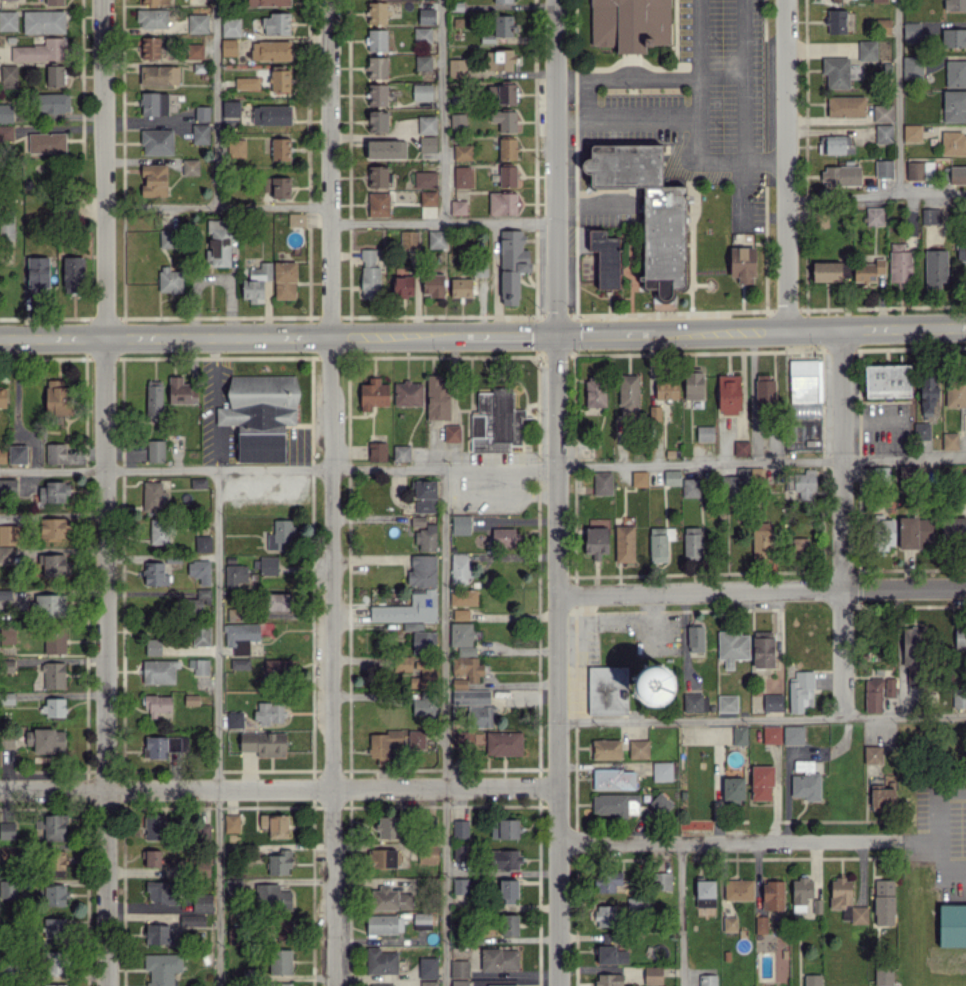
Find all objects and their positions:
building: (154, 1)
building: (503, 1)
building: (878, 1)
building: (55, 2)
building: (268, 2)
building: (954, 5)
building: (376, 13)
building: (426, 16)
building: (152, 18)
building: (8, 20)
building: (43, 21)
building: (836, 21)
building: (197, 23)
building: (276, 24)
building: (630, 24)
building: (503, 25)
building: (884, 25)
building: (230, 26)
building: (912, 32)
building: (422, 34)
building: (953, 37)
building: (376, 40)
building: (150, 47)
building: (228, 47)
building: (39, 50)
building: (270, 50)
building: (867, 50)
building: (194, 51)
building: (498, 60)
building: (423, 62)
building: (912, 66)
building: (377, 67)
building: (457, 67)
building: (836, 71)
building: (955, 73)
building: (9, 75)
building: (55, 75)
building: (159, 75)
road: (627, 78)
building: (279, 80)
building: (246, 83)
building: (422, 92)
building: (377, 94)
building: (501, 94)
road: (899, 98)
building: (52, 102)
building: (154, 103)
road: (215, 103)
building: (845, 106)
building: (954, 106)
building: (231, 109)
road: (441, 110)
building: (6, 113)
building: (202, 113)
building: (882, 113)
building: (271, 114)
road: (825, 114)
road: (628, 116)
building: (504, 120)
building: (377, 121)
road: (701, 121)
building: (458, 122)
building: (427, 124)
building: (912, 132)
building: (200, 133)
building: (884, 133)
building: (46, 142)
building: (157, 142)
building: (953, 143)
building: (427, 144)
building: (835, 144)
building: (237, 148)
building: (507, 148)
building: (280, 149)
building: (386, 149)
building: (462, 152)
road: (784, 165)
building: (190, 166)
building: (883, 168)
building: (918, 169)
building: (955, 174)
building: (507, 175)
building: (842, 175)
building: (377, 176)
building: (462, 176)
building: (153, 179)
building: (425, 179)
building: (277, 186)
building: (428, 198)
road: (874, 198)
building: (502, 203)
building: (378, 204)
road: (217, 206)
building: (458, 207)
building: (647, 210)
building: (874, 215)
building: (930, 216)
building: (296, 219)
road: (443, 220)
building: (6, 230)
building: (168, 238)
building: (409, 239)
building: (435, 239)
building: (219, 242)
building: (961, 251)
building: (605, 258)
building: (899, 263)
building: (512, 264)
building: (742, 264)
building: (935, 268)
building: (826, 271)
building: (868, 271)
building: (37, 273)
building: (72, 274)
building: (369, 274)
road: (495, 277)
building: (169, 280)
building: (285, 280)
building: (256, 282)
building: (433, 284)
building: (403, 286)
building: (461, 287)
road: (902, 328)
road: (747, 331)
road: (605, 334)
road: (394, 335)
road: (507, 335)
traffic signals: (556, 335)
road: (164, 337)
building: (887, 380)
building: (805, 381)
building: (693, 385)
building: (666, 389)
building: (764, 389)
building: (595, 390)
building: (181, 391)
building: (955, 391)
building: (407, 393)
building: (628, 393)
building: (373, 394)
building: (728, 394)
building: (927, 394)
building: (2, 397)
building: (58, 397)
building: (437, 398)
building: (154, 400)
road: (214, 403)
building: (260, 414)
building: (496, 421)
building: (921, 431)
building: (451, 433)
building: (704, 433)
building: (949, 441)
building: (741, 448)
building: (155, 451)
building: (377, 451)
building: (55, 453)
building: (401, 453)
building: (17, 454)
building: (2, 455)
road: (761, 462)
road: (500, 467)
road: (222, 469)
building: (671, 477)
building: (639, 478)
building: (198, 482)
building: (740, 482)
building: (602, 483)
building: (801, 483)
building: (7, 486)
building: (690, 487)
building: (54, 491)
road: (332, 492)
road: (103, 493)
road: (557, 493)
building: (424, 496)
building: (153, 497)
building: (460, 524)
road: (841, 524)
building: (53, 528)
building: (953, 528)
building: (160, 531)
building: (915, 532)
building: (280, 533)
building: (885, 533)
building: (9, 534)
building: (502, 536)
building: (426, 538)
building: (596, 541)
building: (761, 541)
building: (691, 542)
building: (202, 543)
building: (624, 543)
building: (659, 543)
building: (799, 545)
building: (5, 554)
building: (54, 564)
building: (268, 565)
building: (459, 569)
building: (199, 570)
building: (422, 570)
building: (155, 574)
building: (236, 576)
road: (762, 592)
building: (203, 595)
building: (463, 596)
building: (279, 601)
building: (50, 605)
building: (408, 608)
building: (461, 614)
building: (412, 626)
building: (7, 634)
building: (201, 634)
building: (241, 636)
building: (960, 636)
building: (462, 638)
building: (695, 638)
building: (55, 641)
building: (423, 641)
building: (153, 646)
building: (732, 647)
building: (763, 649)
building: (912, 653)
building: (239, 663)
building: (403, 663)
building: (199, 666)
building: (159, 671)
building: (465, 671)
building: (54, 675)
building: (424, 677)
building: (653, 686)
building: (889, 687)
building: (607, 689)
water tower: (654, 690)
building: (800, 691)
building: (873, 695)
building: (470, 696)
building: (959, 697)
building: (695, 702)
building: (772, 702)
building: (158, 703)
building: (727, 703)
building: (424, 706)
building: (54, 707)
building: (269, 713)
building: (480, 715)
building: (235, 719)
road: (761, 719)
road: (217, 727)
road: (444, 727)
building: (771, 734)
building: (739, 735)
building: (793, 735)
building: (416, 739)
building: (46, 740)
building: (264, 743)
building: (503, 743)
building: (383, 744)
building: (155, 747)
building: (638, 748)
building: (606, 749)
building: (872, 754)
building: (662, 771)
building: (613, 778)
building: (805, 780)
building: (762, 782)
road: (279, 788)
building: (733, 788)
building: (881, 798)
building: (615, 804)
road: (939, 804)
building: (231, 822)
building: (275, 824)
building: (155, 826)
building: (54, 827)
building: (387, 827)
building: (460, 828)
building: (504, 828)
building: (7, 830)
road: (727, 842)
road: (939, 843)
building: (459, 852)
building: (428, 853)
building: (150, 858)
building: (384, 858)
building: (505, 859)
building: (280, 862)
building: (55, 863)
building: (608, 881)
building: (662, 881)
building: (460, 885)
building: (8, 888)
building: (738, 889)
building: (160, 891)
building: (508, 891)
building: (840, 894)
building: (55, 895)
building: (772, 895)
building: (276, 896)
building: (705, 896)
building: (389, 899)
building: (202, 902)
building: (883, 902)
building: (858, 914)
building: (606, 915)
road: (680, 915)
building: (422, 920)
building: (760, 923)
building: (384, 924)
building: (509, 924)
building: (730, 924)
building: (952, 925)
building: (55, 928)
building: (281, 928)
building: (156, 933)
building: (235, 935)
building: (611, 955)
building: (499, 959)
building: (280, 961)
building: (380, 961)
building: (54, 962)
building: (427, 967)
building: (162, 968)
building: (459, 969)
building: (653, 975)
building: (883, 976)
building: (609, 979)
building: (707, 980)
building: (812, 980)
building: (458, 982)
building: (479, 982)
building: (428, 983)
building: (54, 984)
building: (280, 984)
building: (381, 984)
building: (502, 985)

